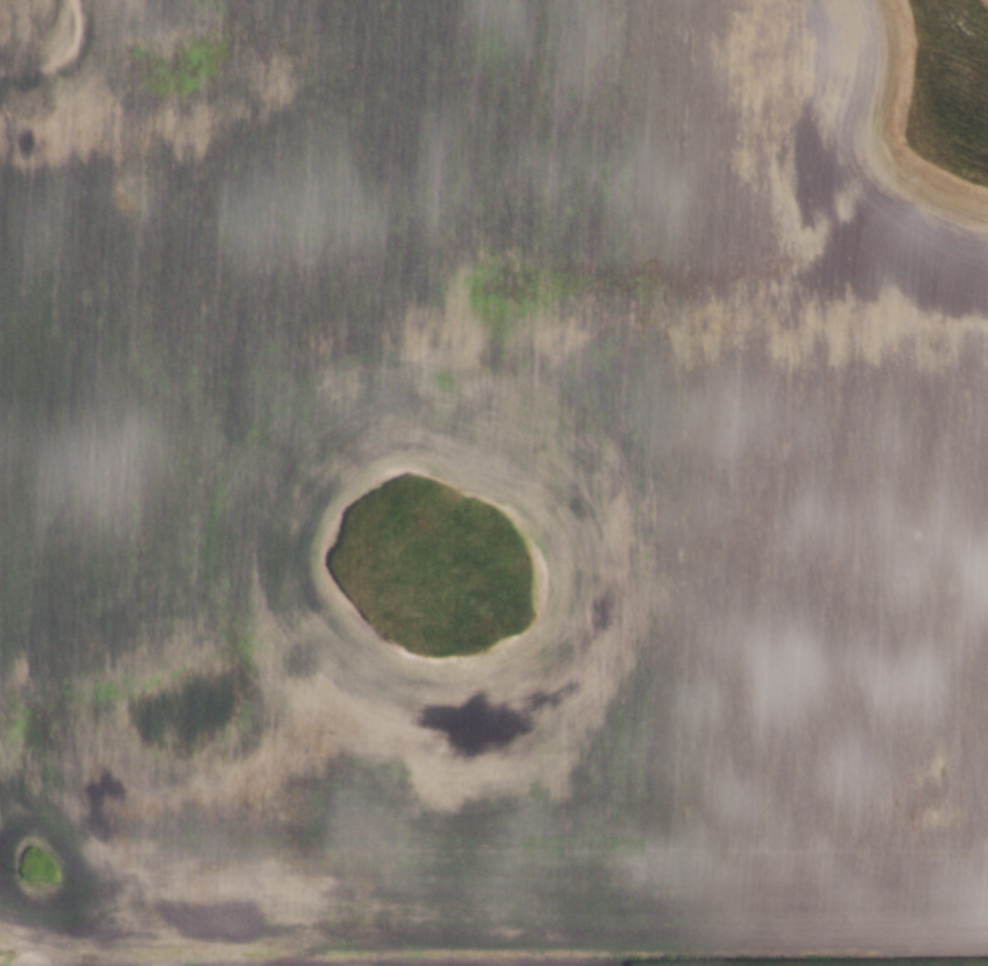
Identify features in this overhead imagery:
road: (493, 943)

